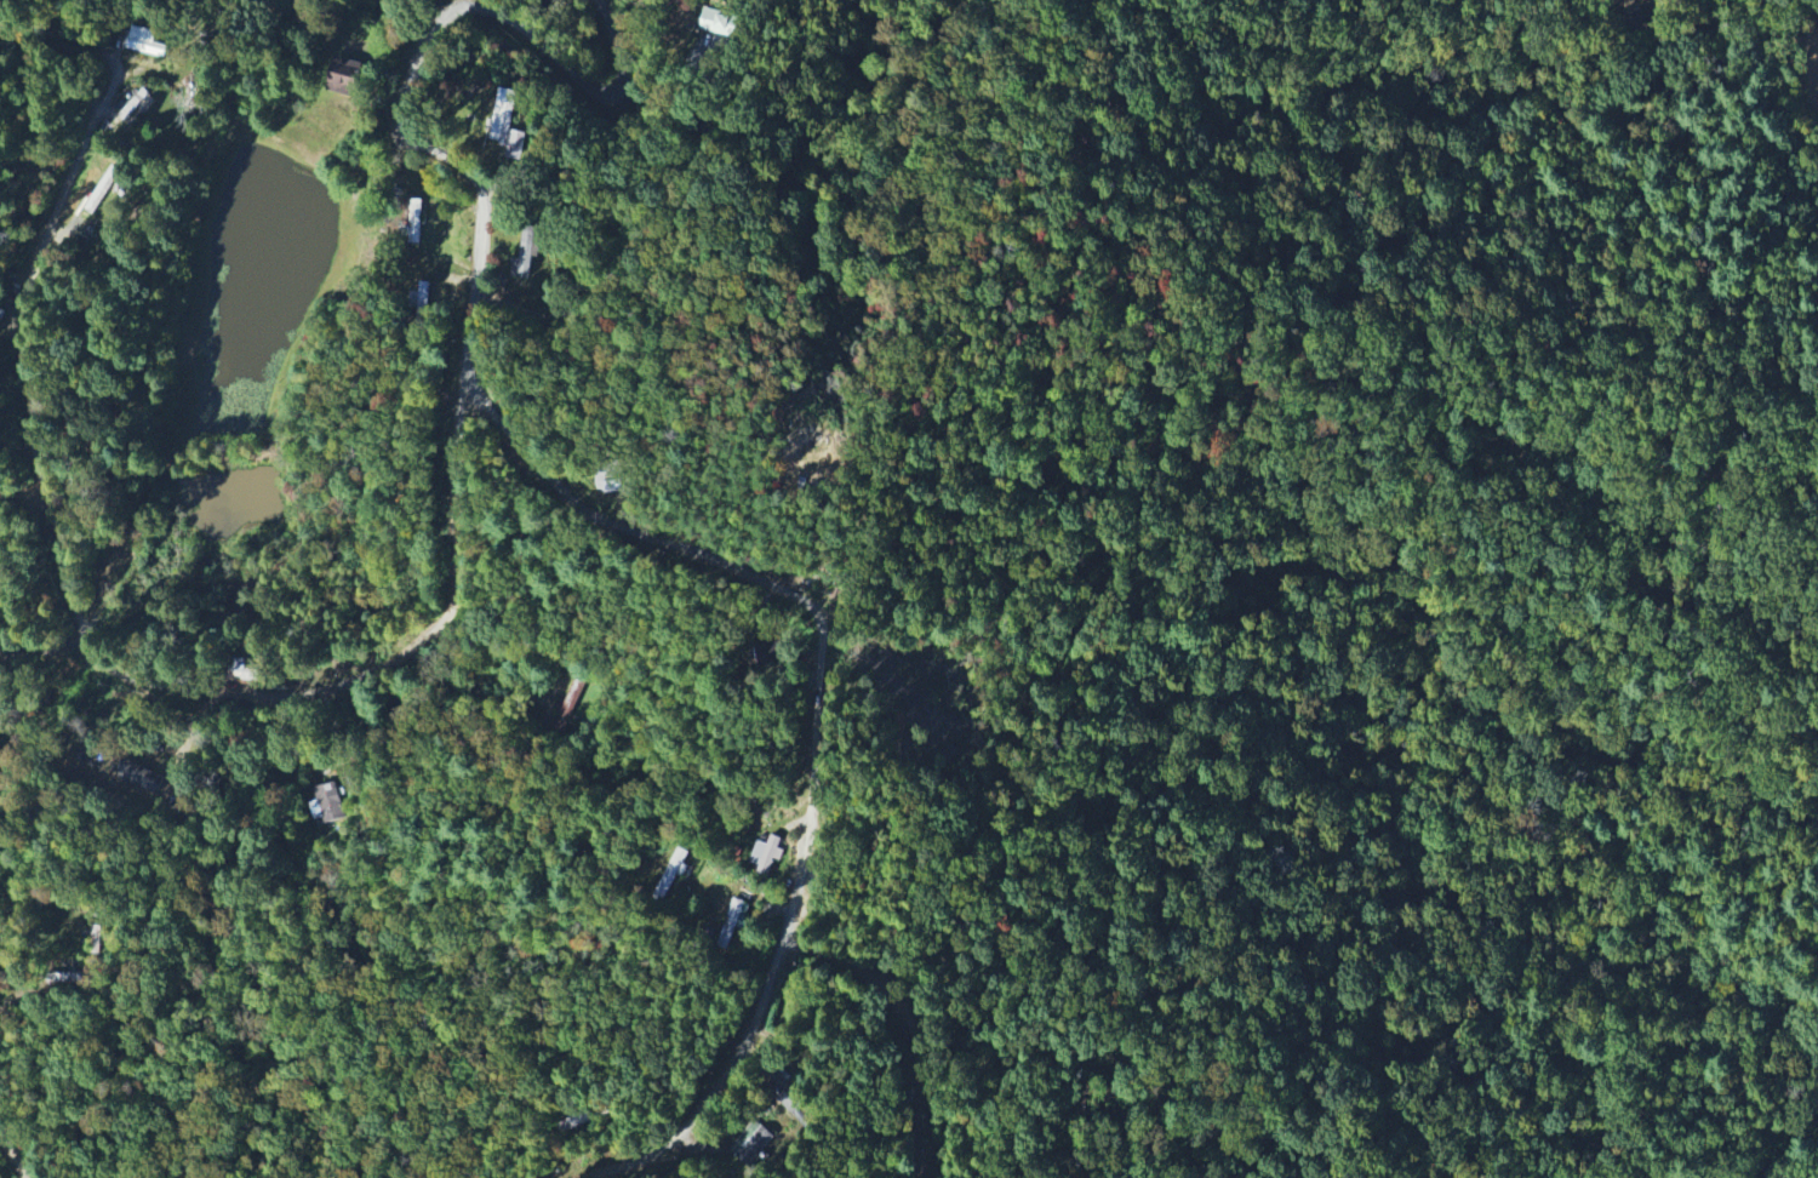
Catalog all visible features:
building: (720, 23)
road: (64, 40)
building: (147, 41)
road: (415, 69)
road: (215, 95)
building: (503, 115)
building: (516, 145)
building: (416, 215)
building: (526, 255)
building: (611, 482)
road: (95, 648)
road: (816, 730)
building: (139, 783)
building: (330, 806)
building: (767, 854)
building: (671, 873)
building: (731, 923)
road: (919, 1019)
building: (755, 1146)
road: (13, 1155)

